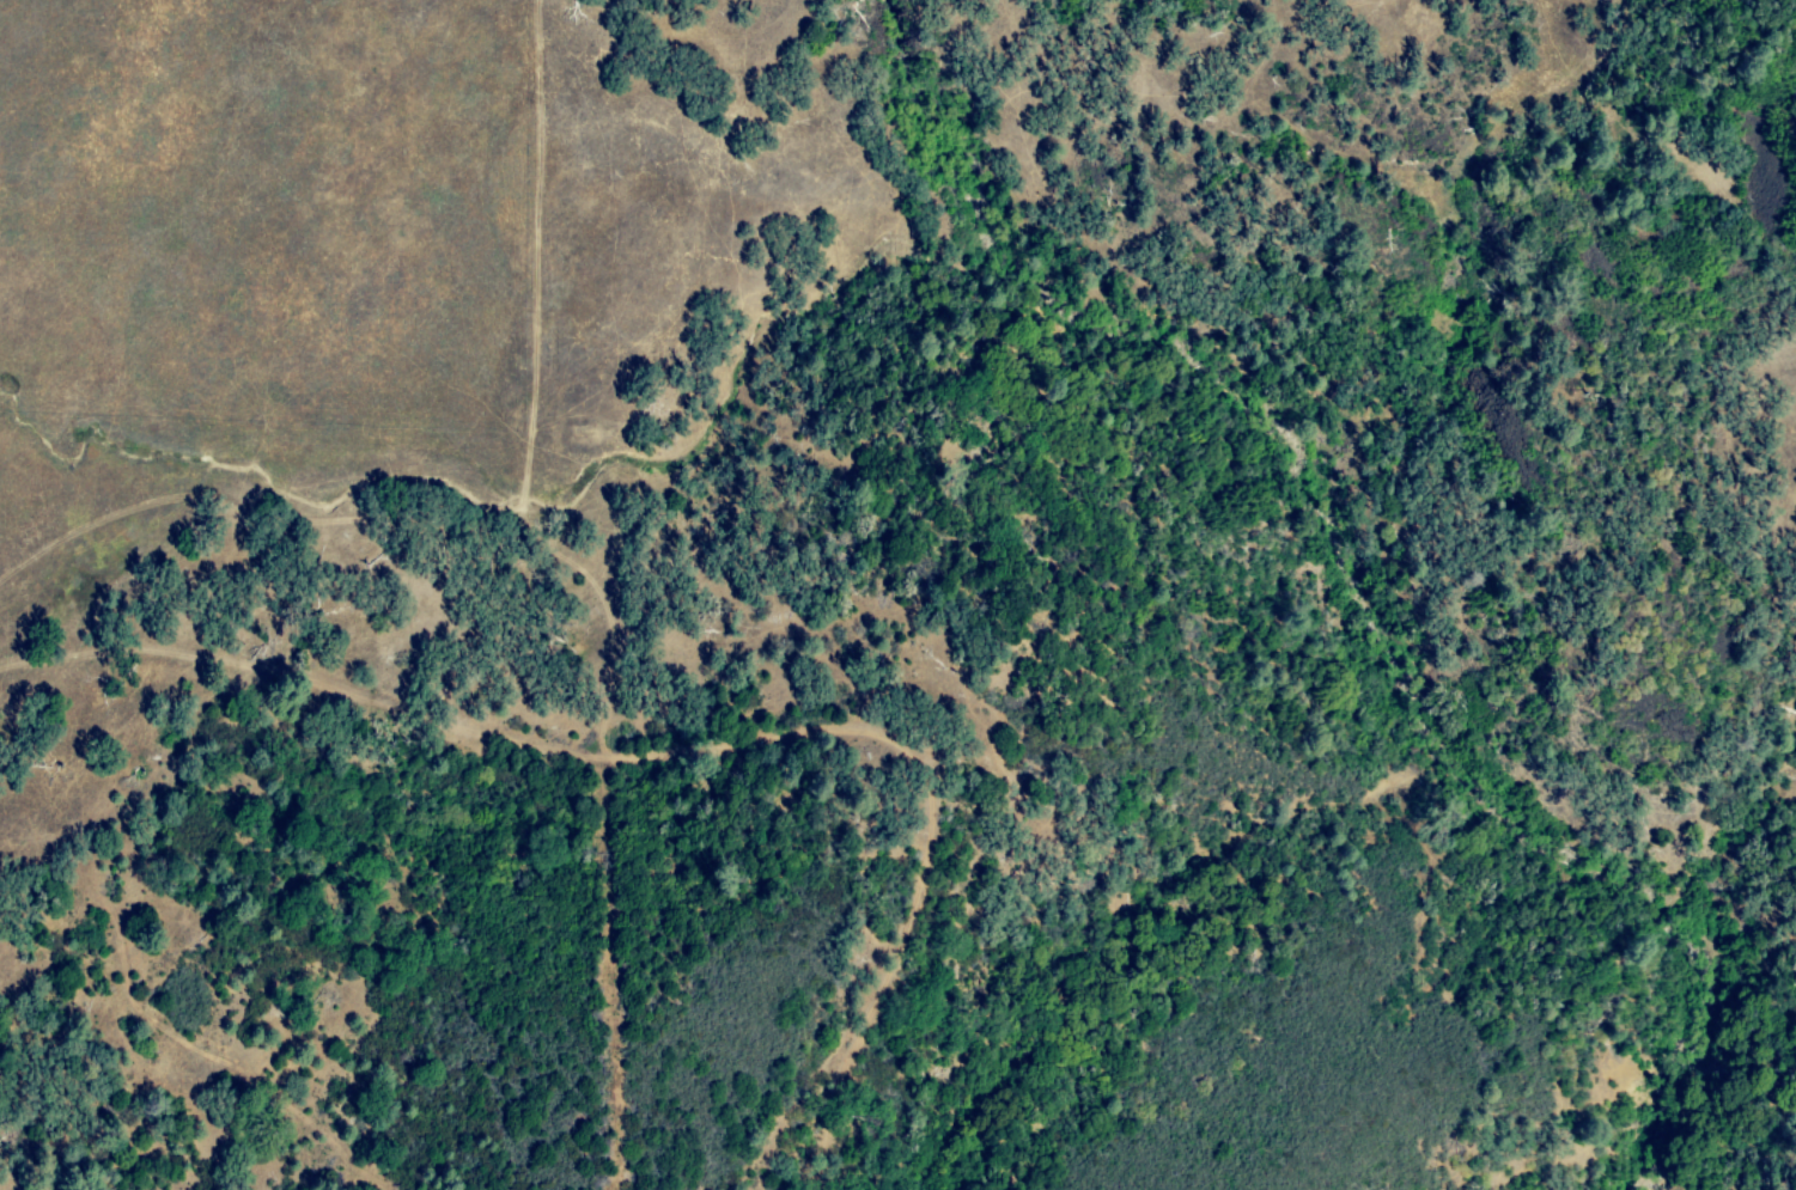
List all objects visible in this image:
road: (16, 665)
road: (699, 751)
road: (166, 1033)

